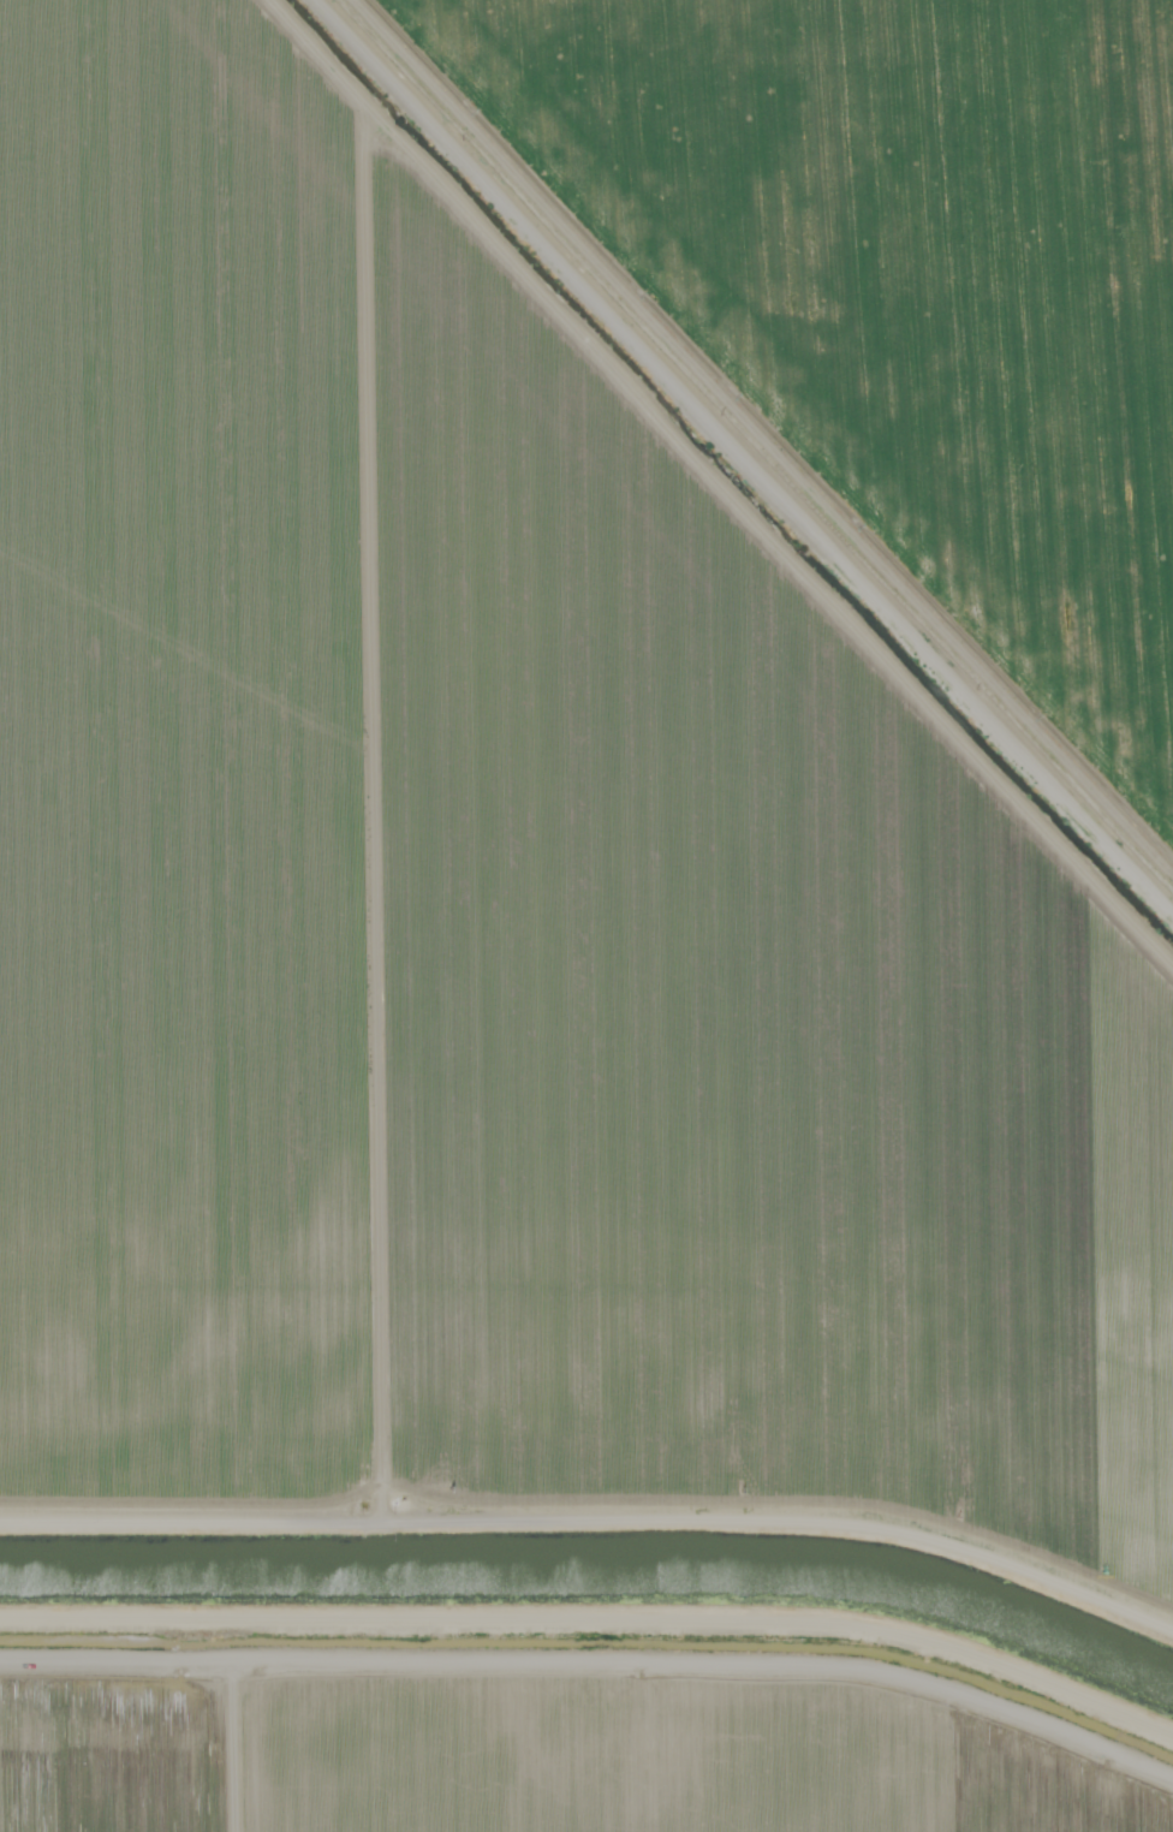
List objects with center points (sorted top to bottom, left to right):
road: (778, 420)
crop: (591, 748)
road: (593, 1462)
road: (573, 1701)
crop: (538, 1738)

